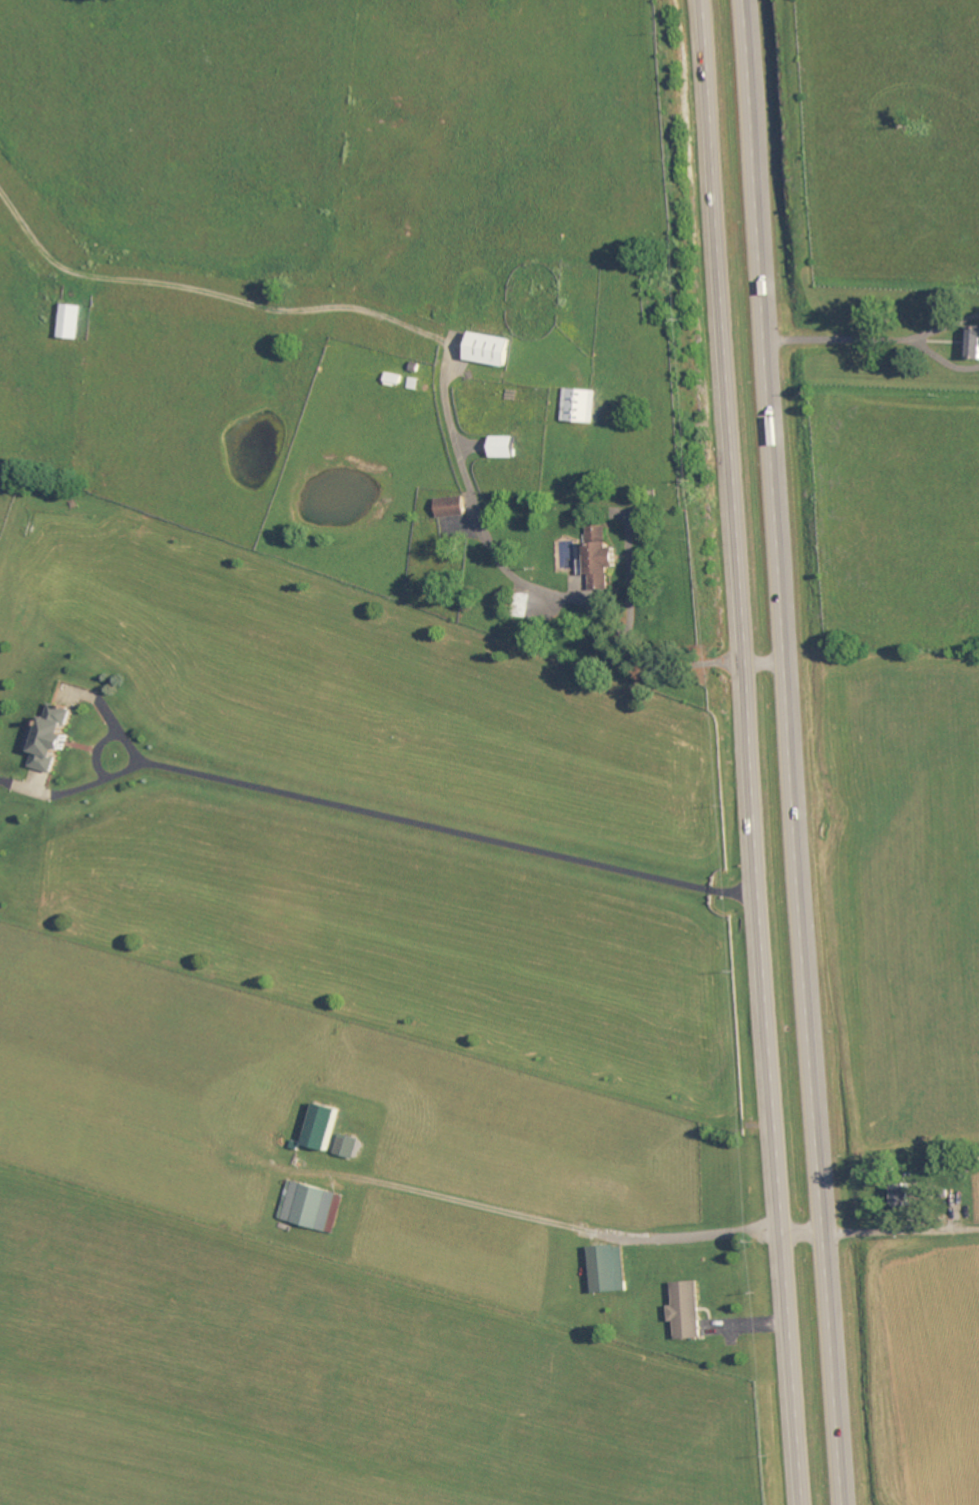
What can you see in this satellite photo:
road: (212, 295)
building: (71, 323)
road: (944, 327)
road: (838, 342)
building: (973, 343)
building: (494, 351)
road: (943, 360)
building: (584, 407)
building: (508, 448)
building: (454, 506)
building: (603, 559)
road: (521, 581)
road: (765, 662)
building: (54, 738)
road: (750, 752)
road: (792, 752)
building: (327, 1126)
building: (352, 1146)
building: (908, 1195)
building: (316, 1207)
road: (580, 1228)
building: (610, 1269)
building: (690, 1310)

